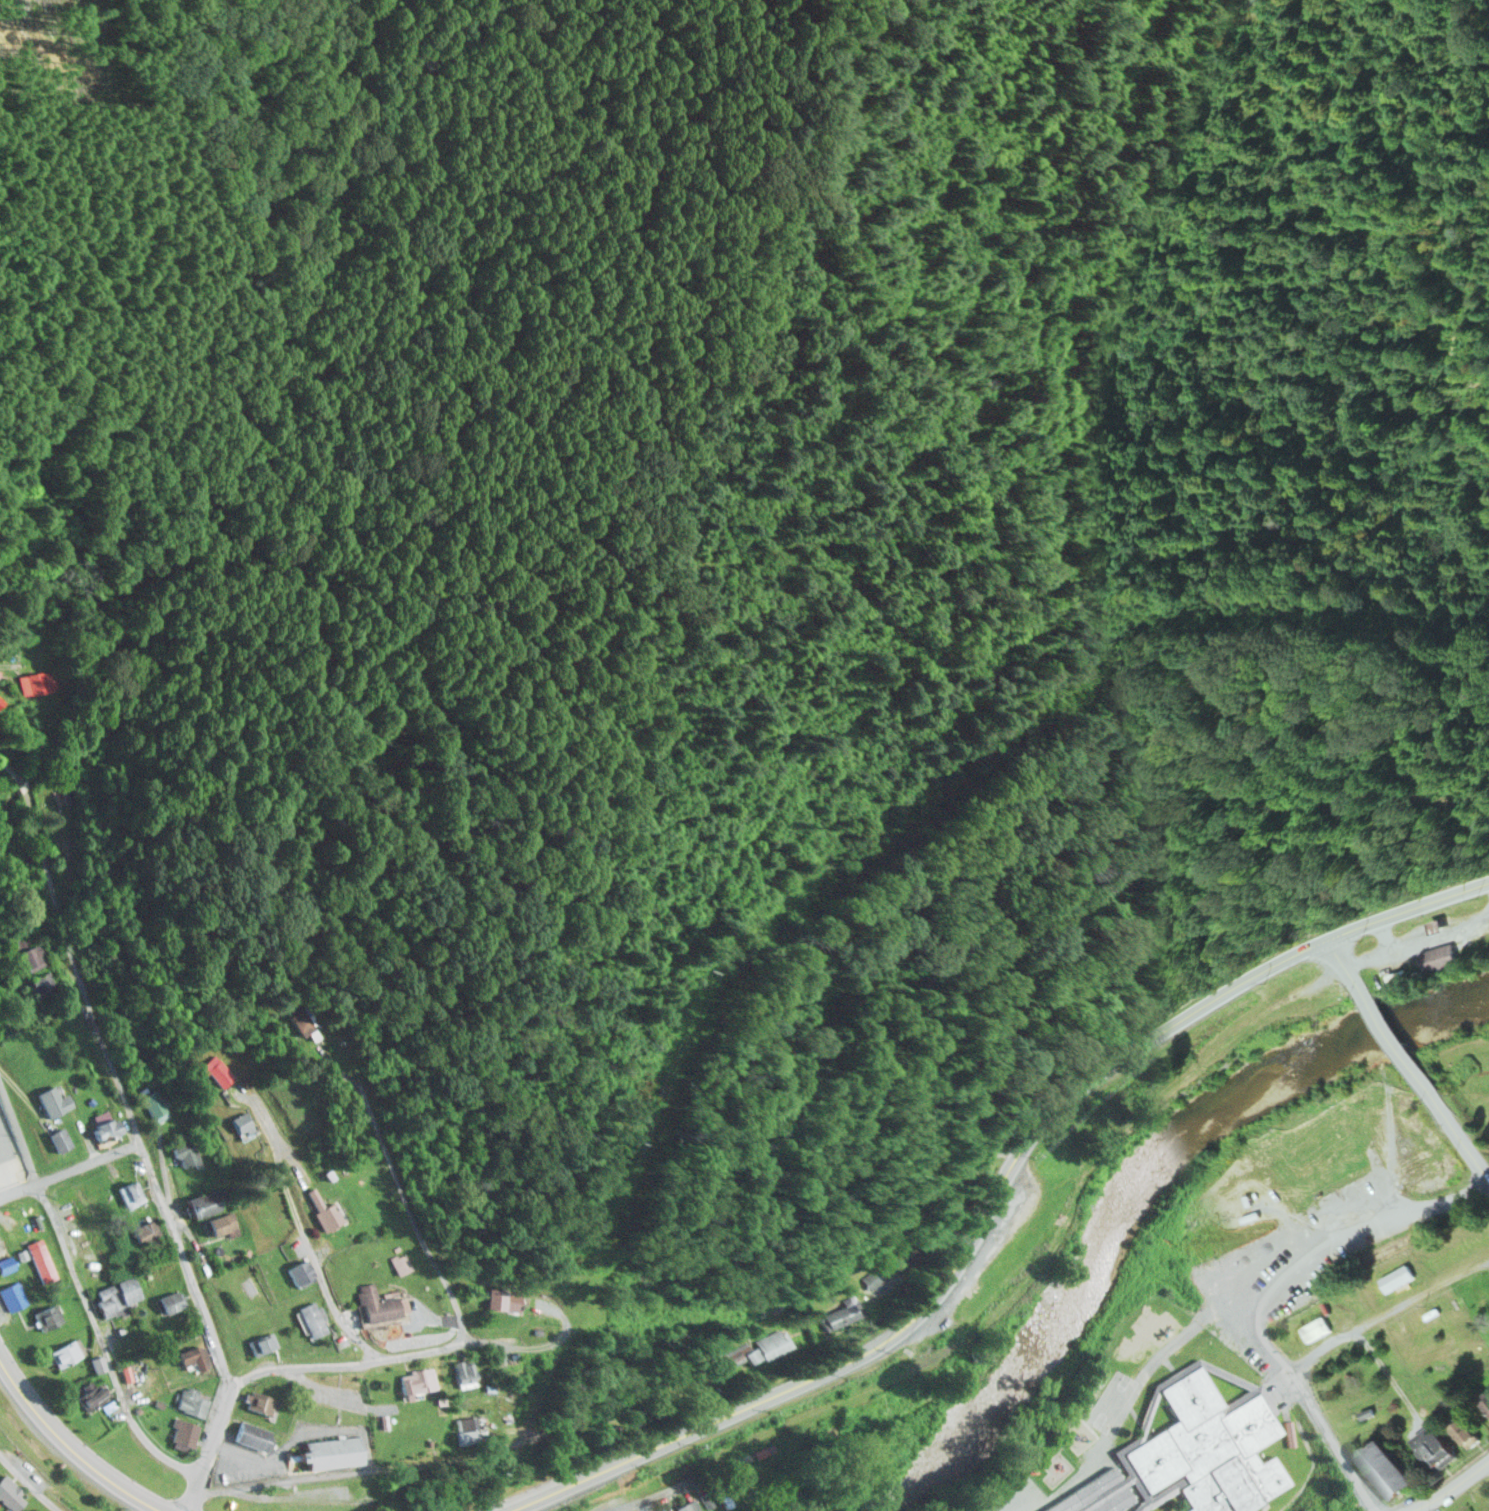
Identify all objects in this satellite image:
road: (24, 640)
building: (35, 681)
building: (1, 701)
road: (1405, 907)
building: (27, 952)
building: (1438, 958)
road: (1335, 960)
building: (1395, 979)
building: (41, 983)
building: (300, 1021)
road: (1388, 1036)
building: (215, 1069)
road: (111, 1072)
building: (53, 1099)
building: (155, 1102)
building: (241, 1123)
building: (105, 1124)
road: (1458, 1135)
building: (59, 1137)
building: (186, 1152)
road: (1485, 1165)
building: (1322, 1166)
road: (68, 1171)
road: (1073, 1187)
road: (402, 1190)
building: (130, 1191)
river: (1147, 1201)
building: (203, 1202)
building: (323, 1209)
building: (218, 1223)
road: (301, 1225)
building: (143, 1230)
building: (5, 1256)
building: (43, 1261)
building: (400, 1262)
building: (299, 1271)
road: (953, 1272)
building: (873, 1277)
building: (1395, 1278)
building: (978, 1293)
building: (13, 1294)
building: (116, 1295)
building: (500, 1298)
road: (83, 1299)
building: (169, 1301)
building: (377, 1303)
building: (840, 1312)
building: (48, 1315)
building: (311, 1317)
building: (1314, 1329)
building: (261, 1342)
road: (540, 1342)
building: (769, 1343)
building: (66, 1351)
road: (1324, 1352)
building: (192, 1356)
road: (351, 1361)
building: (98, 1363)
building: (462, 1372)
building: (416, 1379)
building: (92, 1396)
building: (192, 1401)
building: (1484, 1401)
building: (259, 1402)
road: (555, 1422)
building: (463, 1431)
building: (183, 1433)
building: (1463, 1433)
building: (251, 1434)
road: (75, 1441)
road: (208, 1447)
building: (1431, 1447)
building: (1210, 1448)
building: (331, 1451)
road: (46, 1464)
building: (1383, 1469)
road: (34, 1473)
building: (744, 1478)
road: (1442, 1486)
building: (10, 1493)
road: (647, 1495)
building: (688, 1505)
road: (1405, 1508)
building: (1171, 1510)

